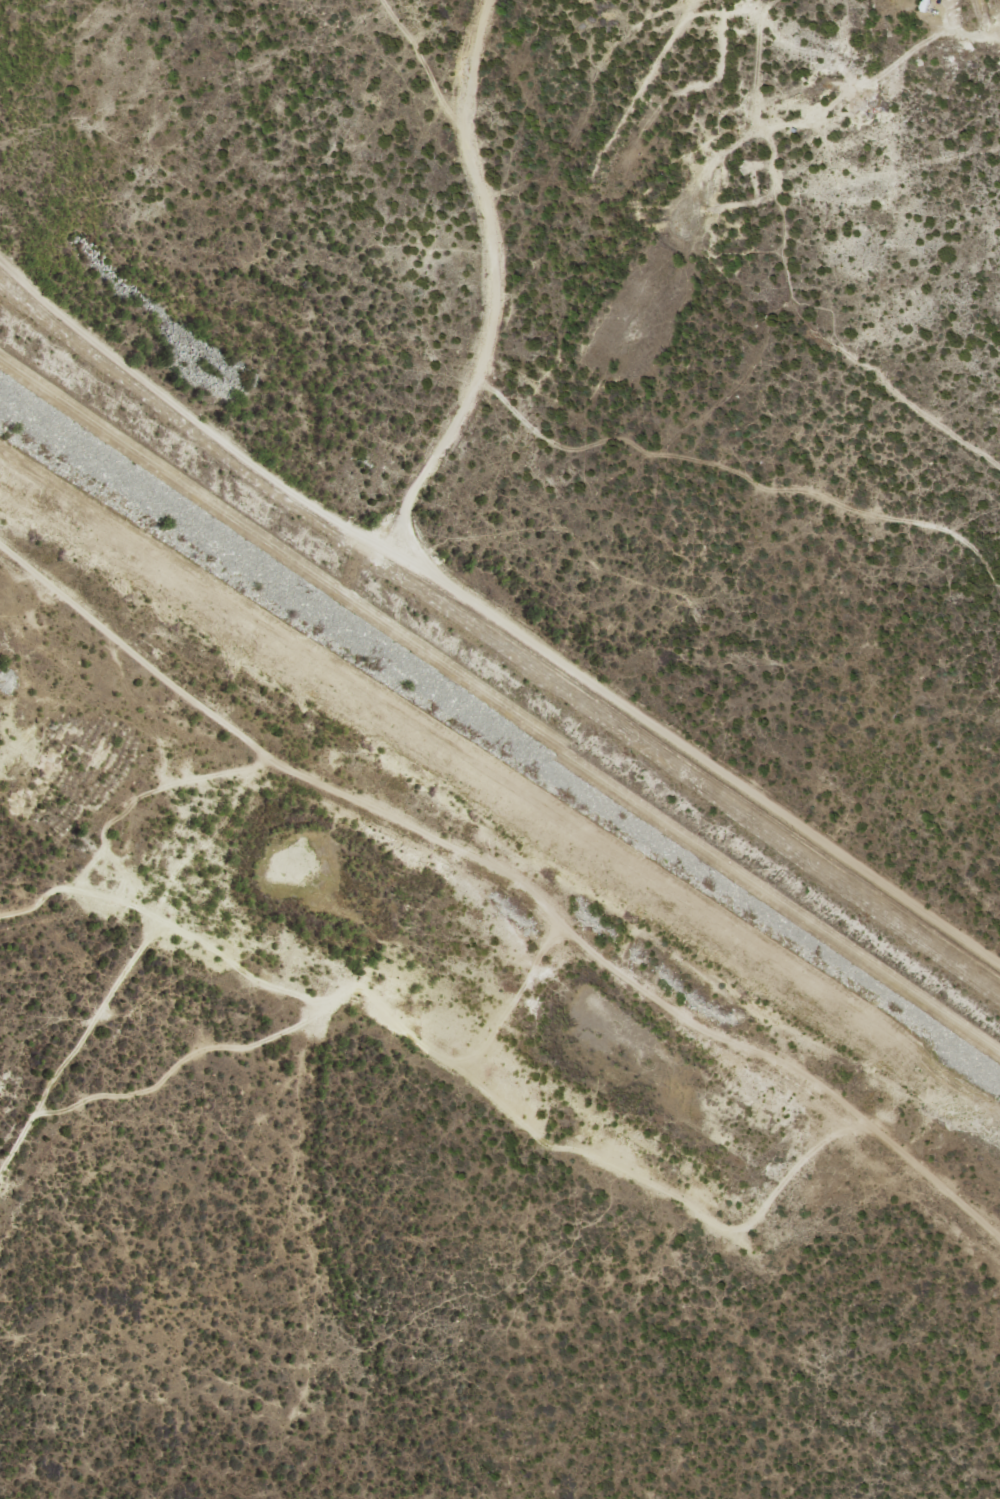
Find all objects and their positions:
road: (491, 280)
railway: (354, 583)
road: (494, 618)
dam: (452, 682)
road: (500, 708)
road: (509, 881)
road: (157, 905)
road: (76, 1045)

